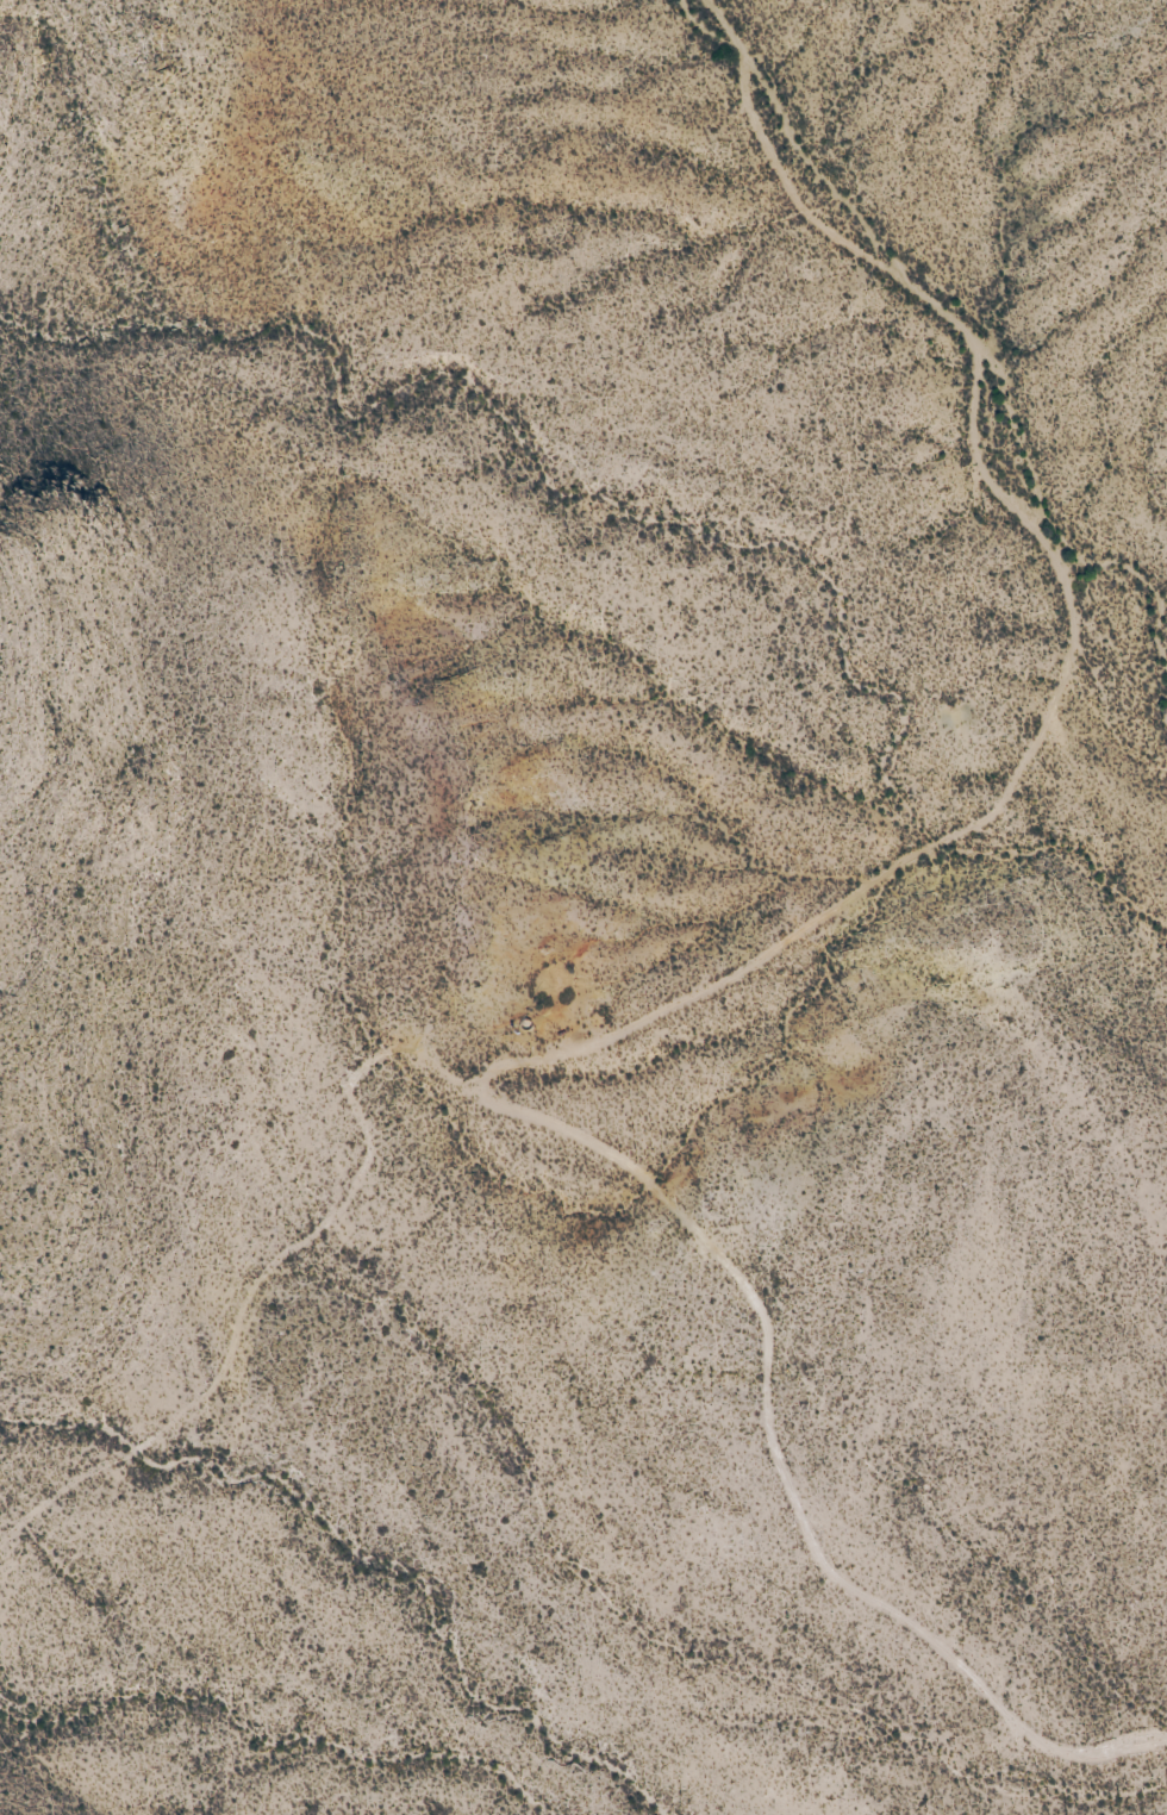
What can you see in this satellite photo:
road: (842, 1533)

